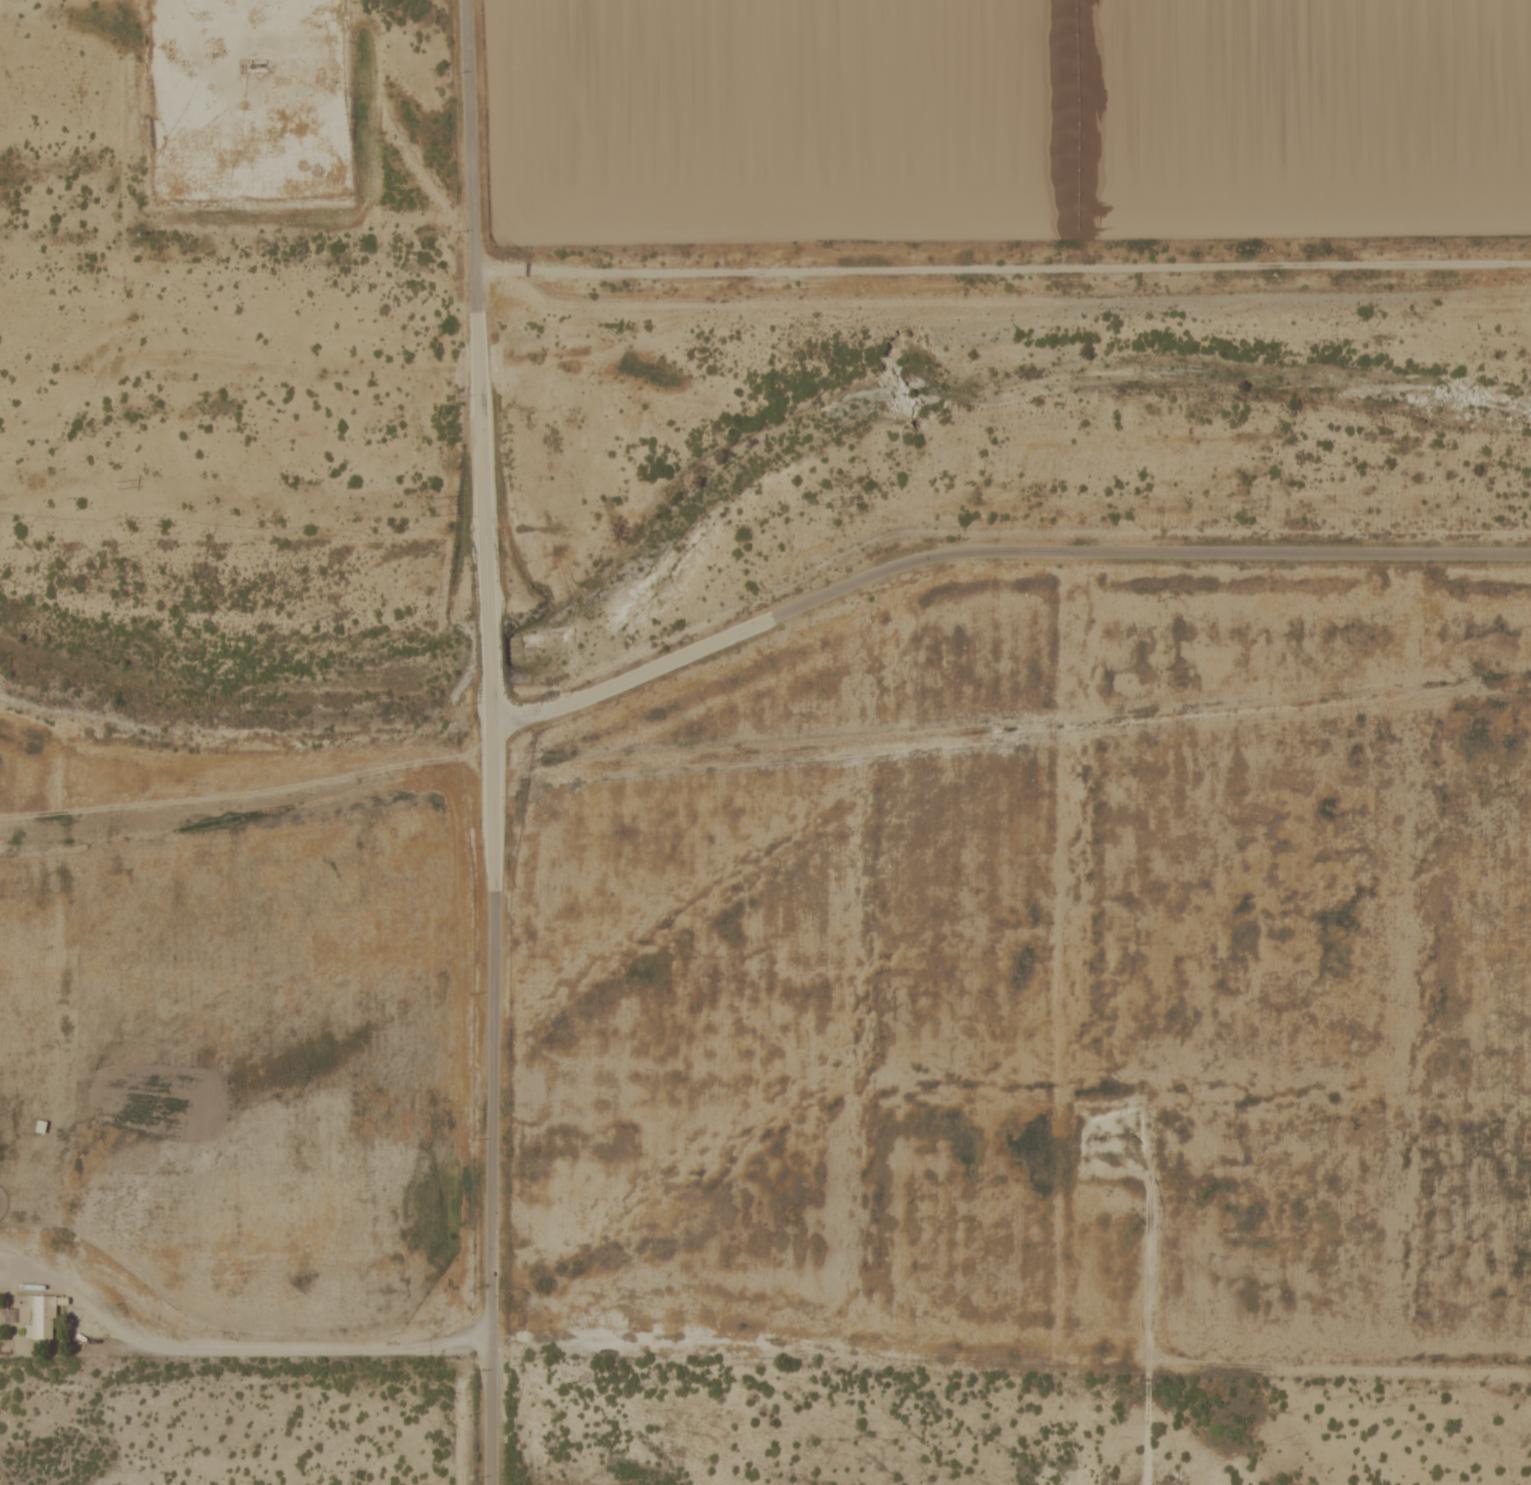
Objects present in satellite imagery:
road: (469, 183)
road: (1001, 281)
road: (433, 338)
power tower: (112, 485)
road: (480, 491)
power tower: (827, 504)
power tower: (1241, 505)
power tower: (426, 506)
road: (994, 547)
road: (486, 649)
road: (246, 736)
road: (492, 1083)
road: (1150, 1291)

